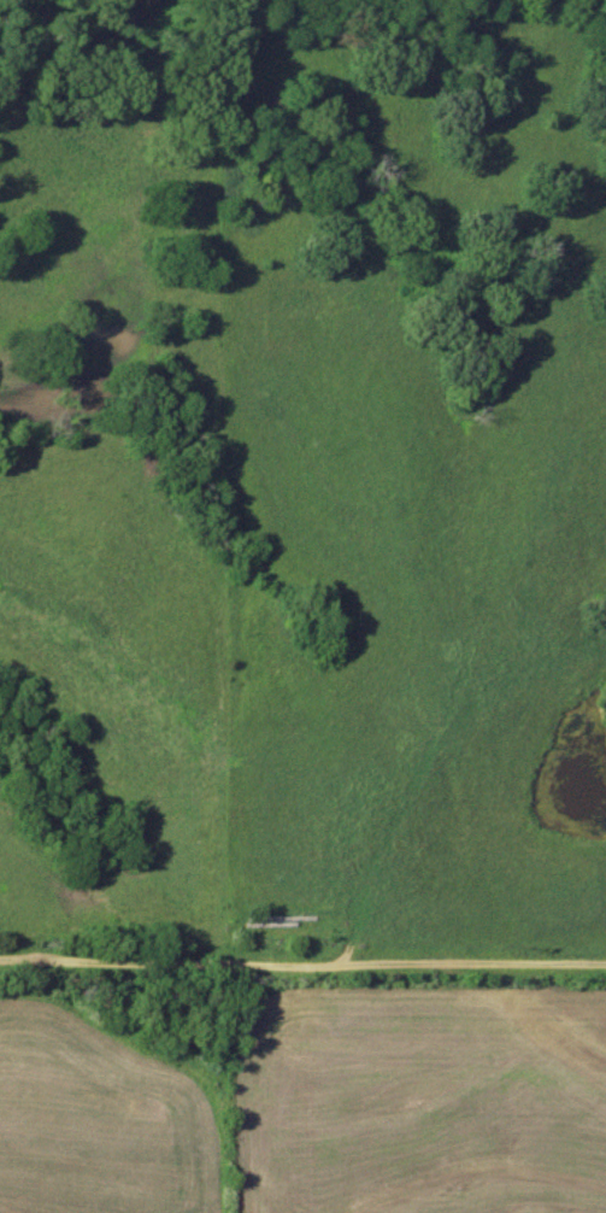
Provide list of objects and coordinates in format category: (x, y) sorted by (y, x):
road: (302, 966)

